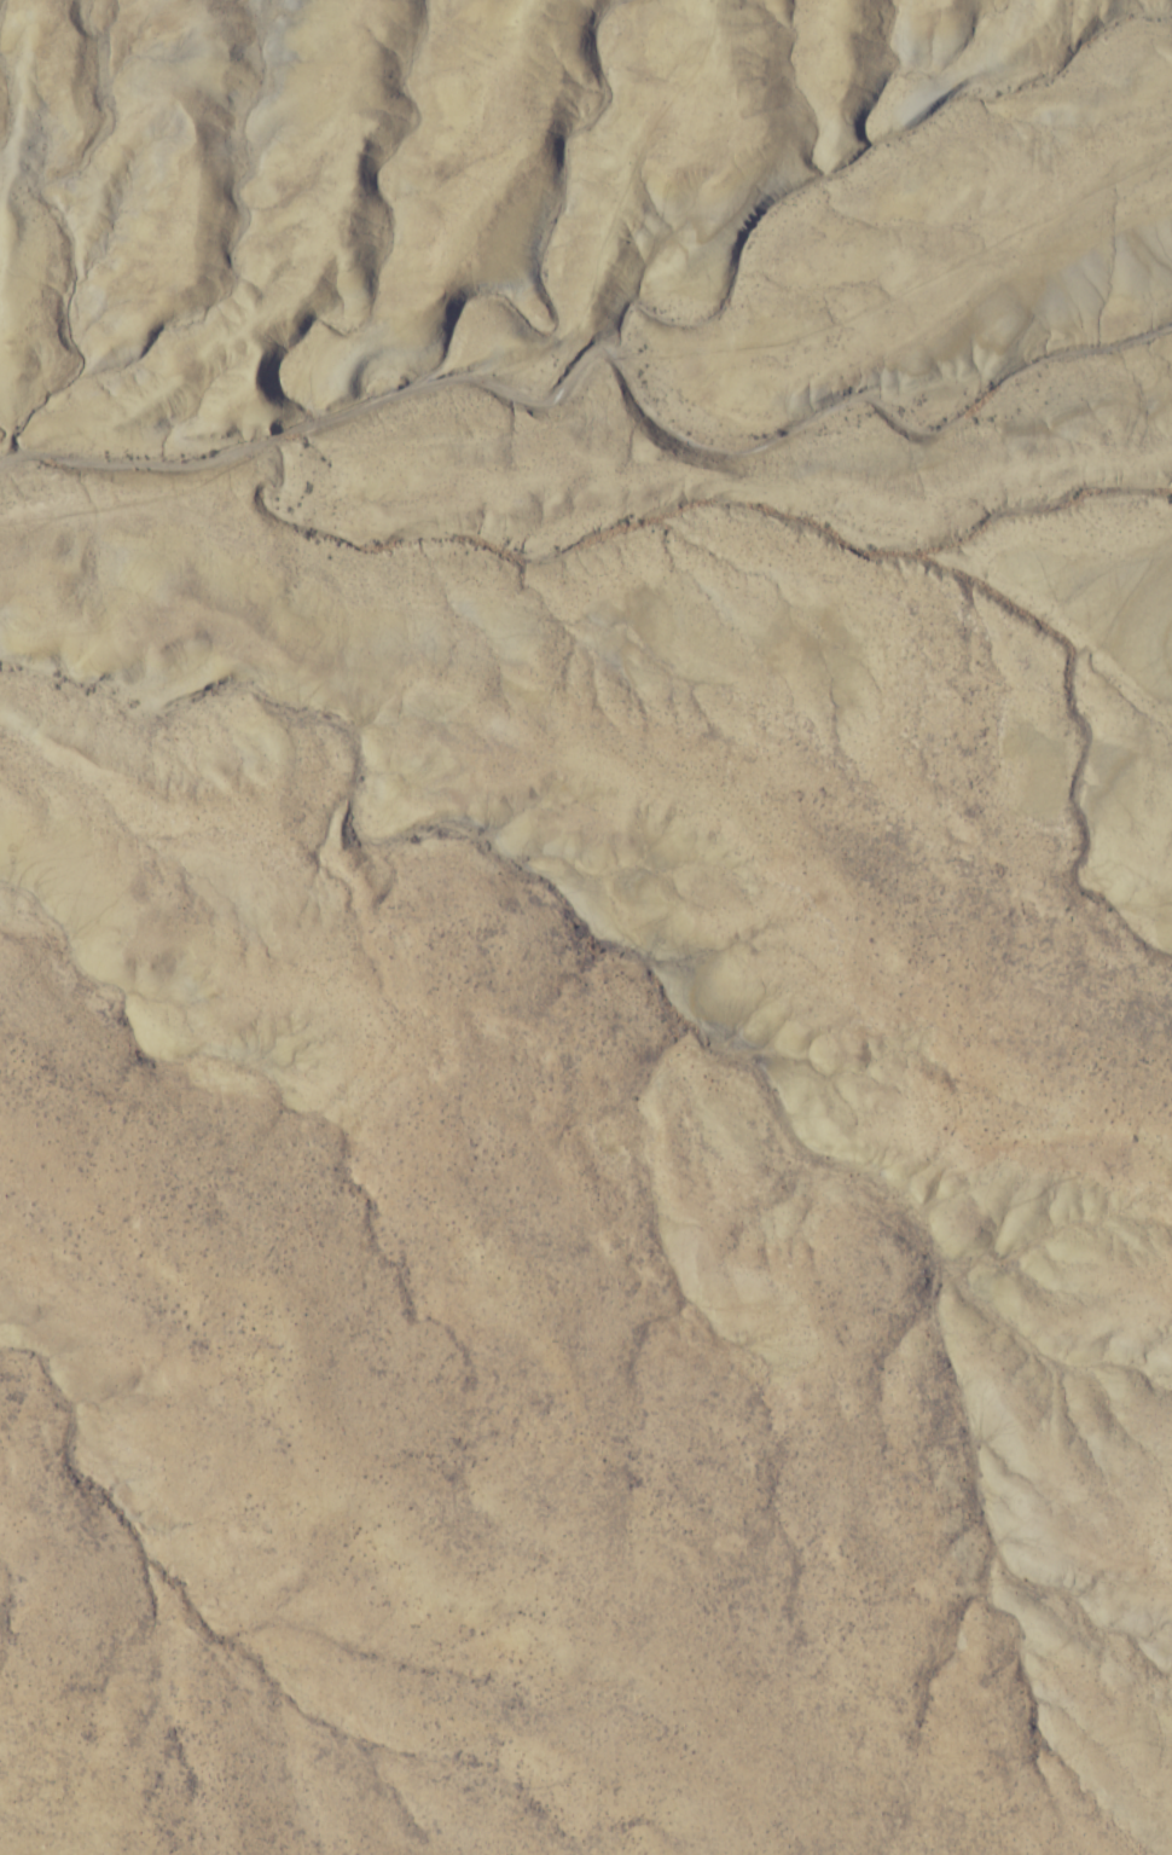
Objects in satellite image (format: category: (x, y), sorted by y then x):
road: (614, 370)

